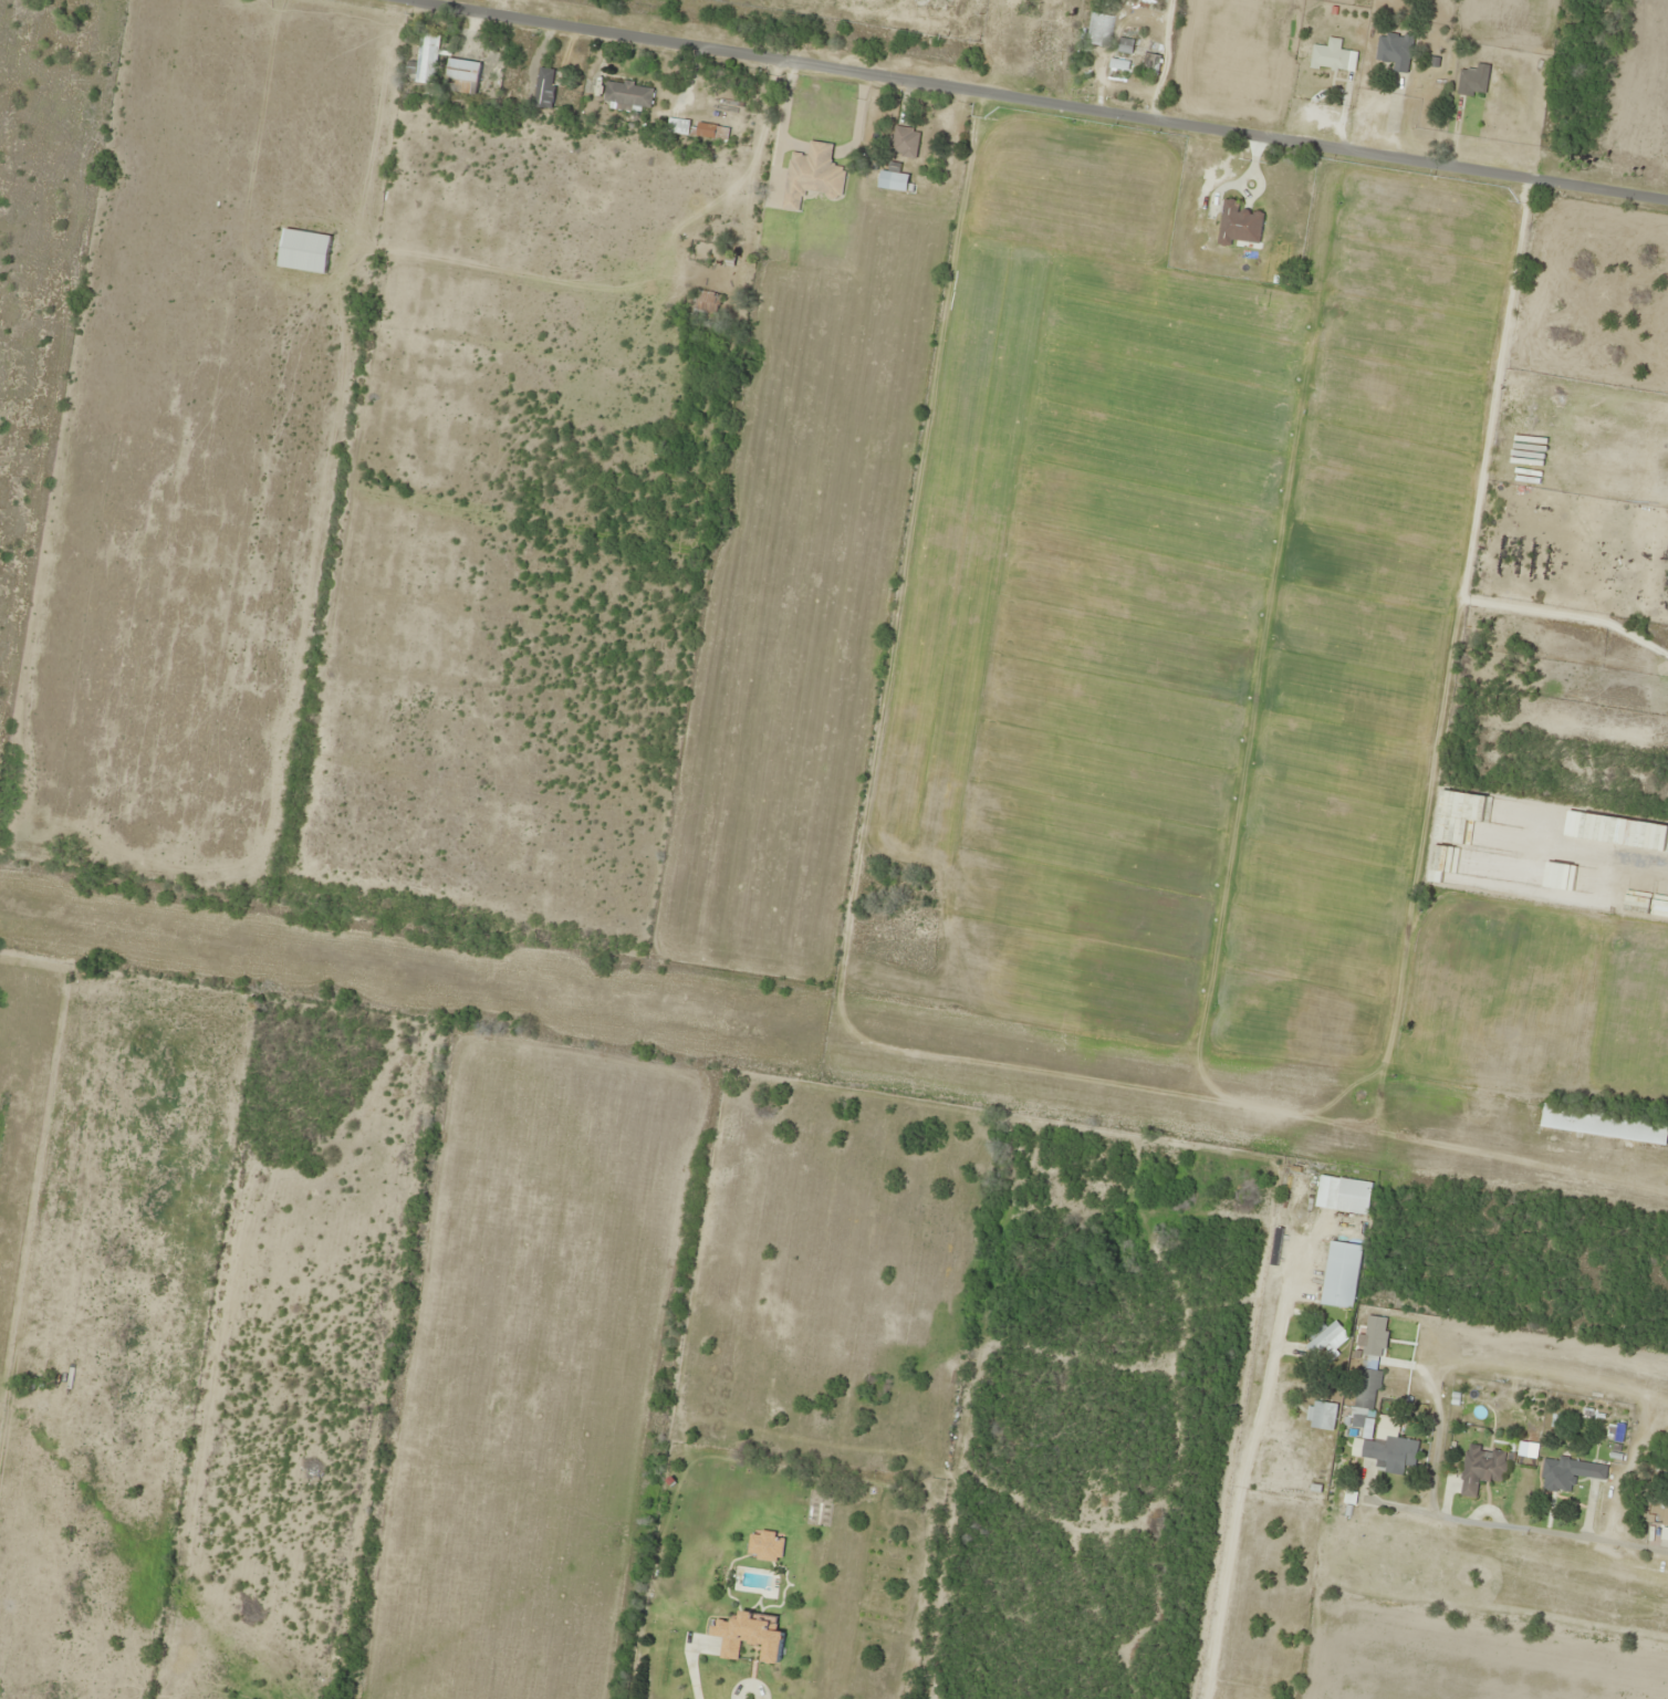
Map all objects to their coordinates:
building: (1098, 29)
building: (1050, 43)
building: (1395, 50)
building: (1333, 55)
building: (428, 58)
building: (1150, 63)
building: (463, 75)
building: (1473, 80)
building: (544, 87)
building: (628, 94)
road: (1051, 101)
building: (697, 128)
building: (905, 142)
building: (812, 175)
building: (893, 180)
building: (1239, 223)
building: (304, 250)
building: (706, 305)
building: (885, 936)
building: (1594, 1120)
building: (1343, 1195)
building: (1341, 1274)
building: (1374, 1335)
building: (1367, 1388)
building: (1322, 1415)
building: (1391, 1450)
building: (1481, 1468)
building: (1558, 1473)
building: (1665, 1518)

